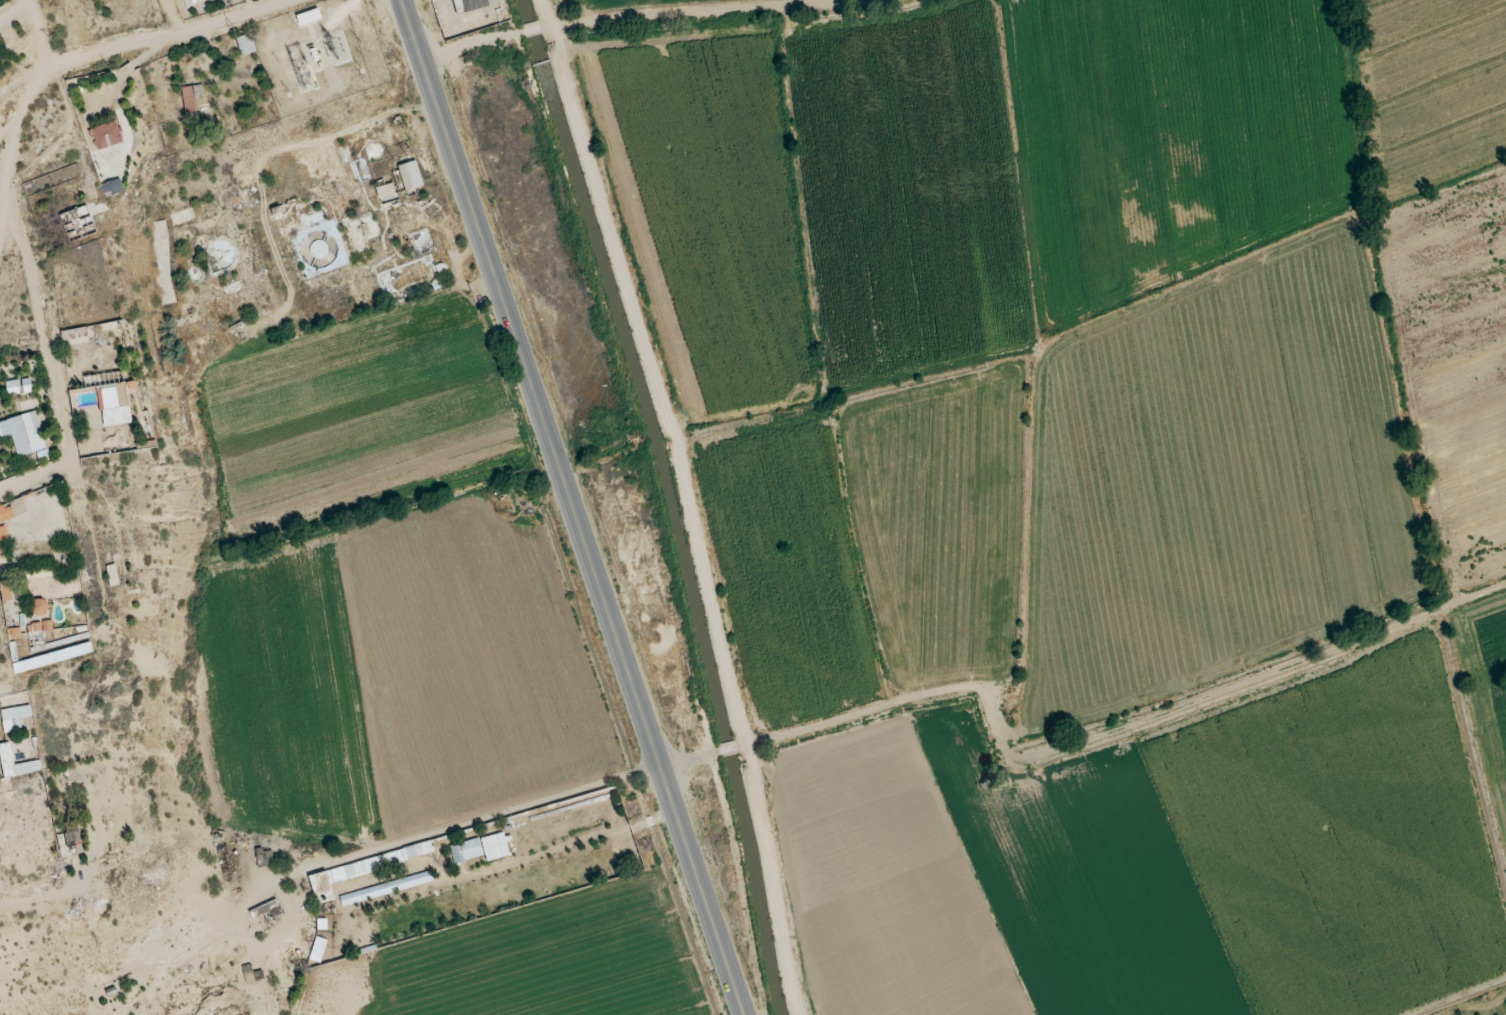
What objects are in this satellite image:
road: (681, 11)

